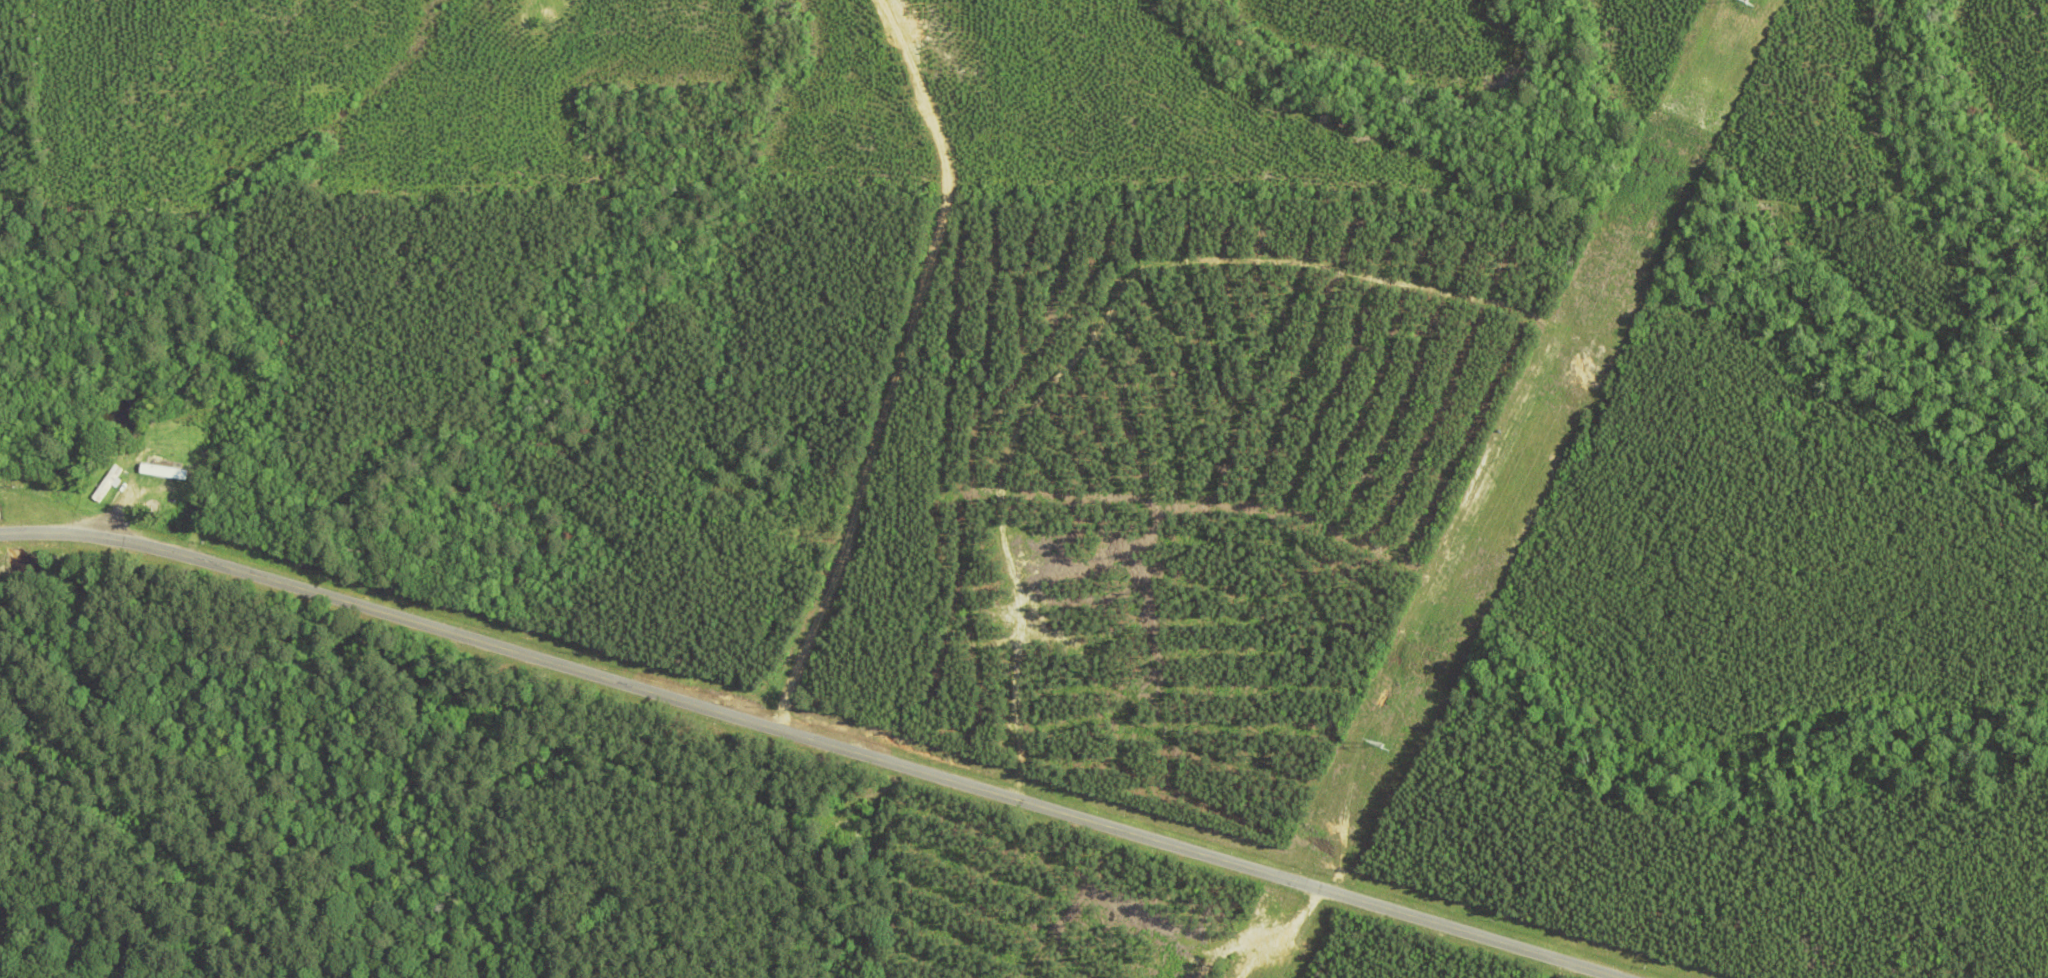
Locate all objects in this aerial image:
power tower: (1741, 1)
road: (901, 364)
building: (174, 424)
building: (161, 473)
building: (105, 486)
road: (646, 690)
power tower: (1379, 745)
road: (1452, 928)

